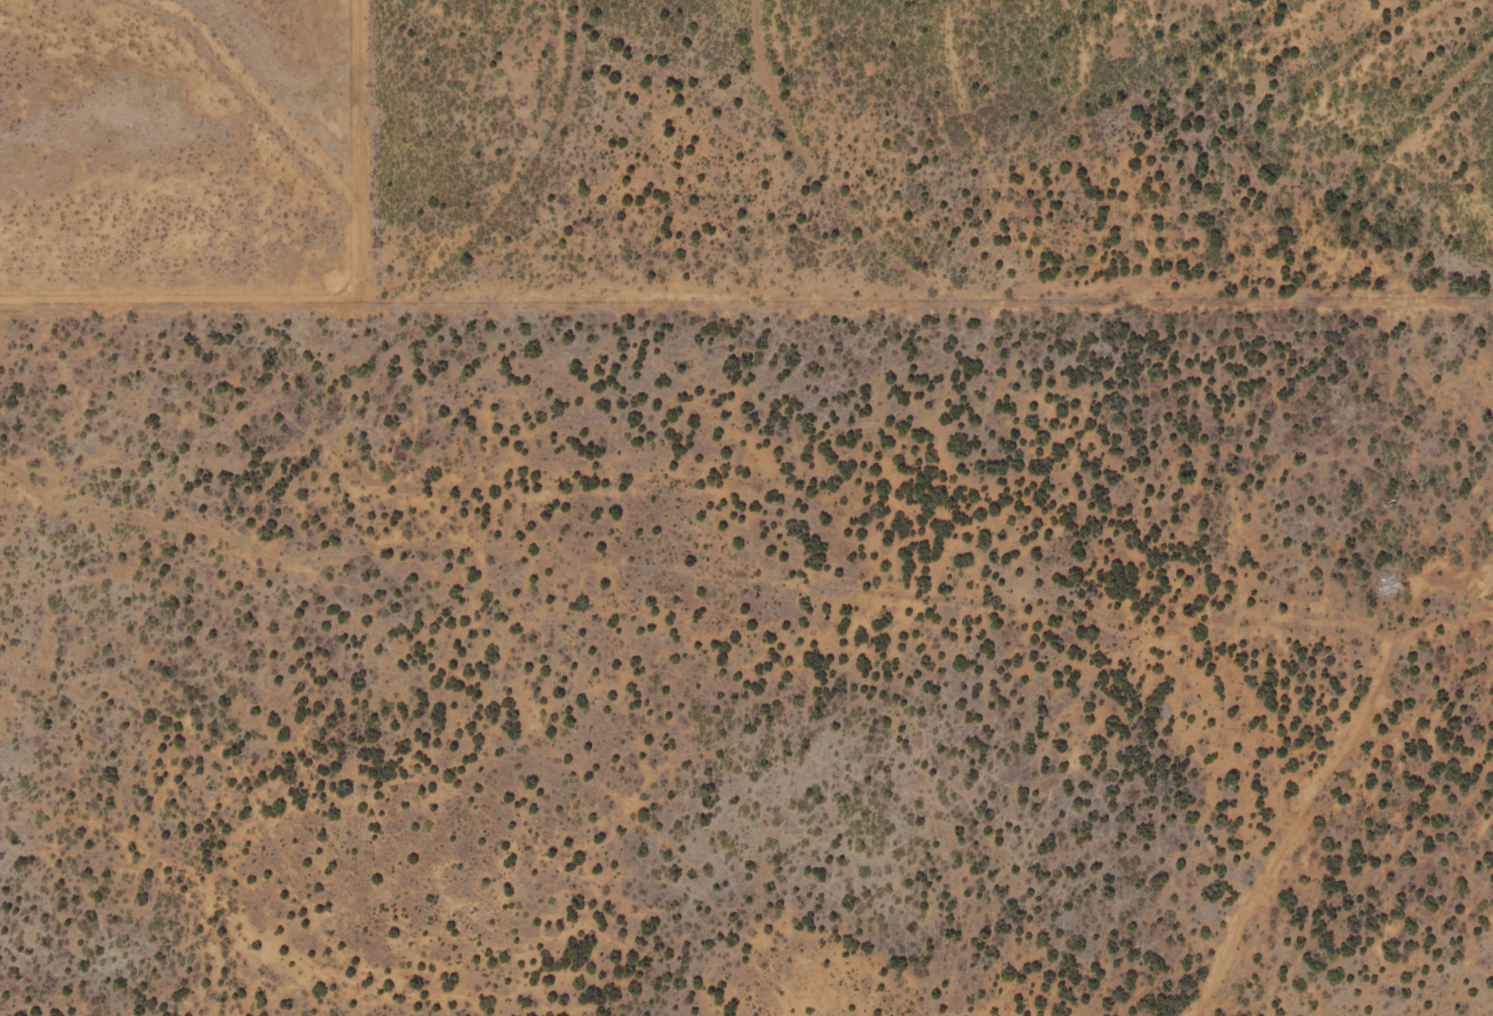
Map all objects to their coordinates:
road: (1331, 796)

